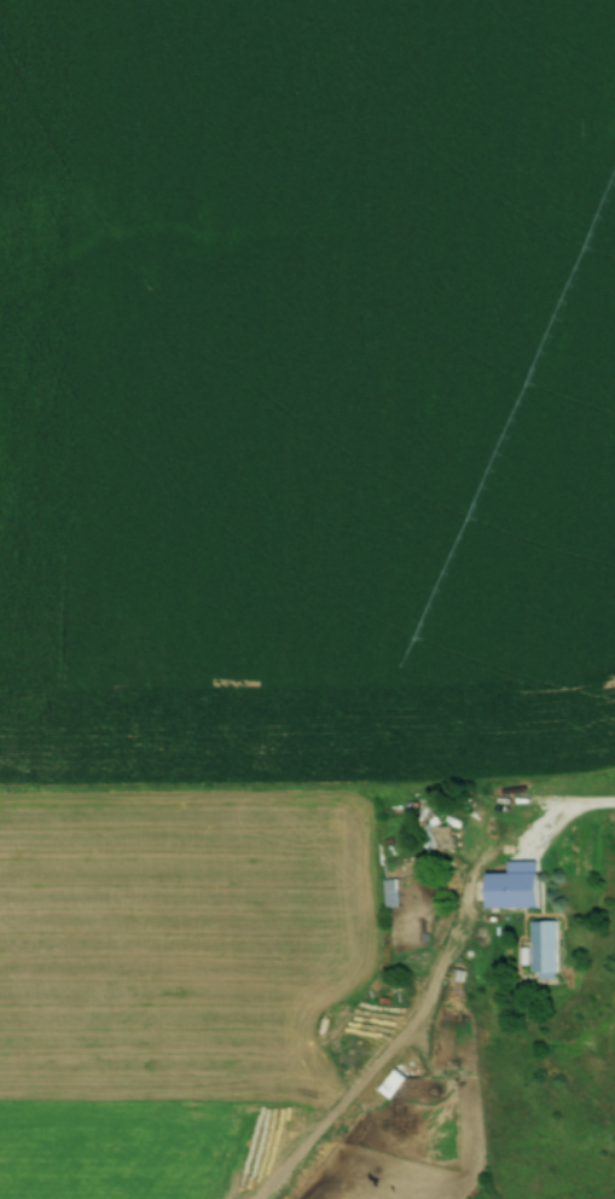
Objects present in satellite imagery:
building: (429, 826)
road: (556, 826)
building: (388, 893)
building: (539, 948)

